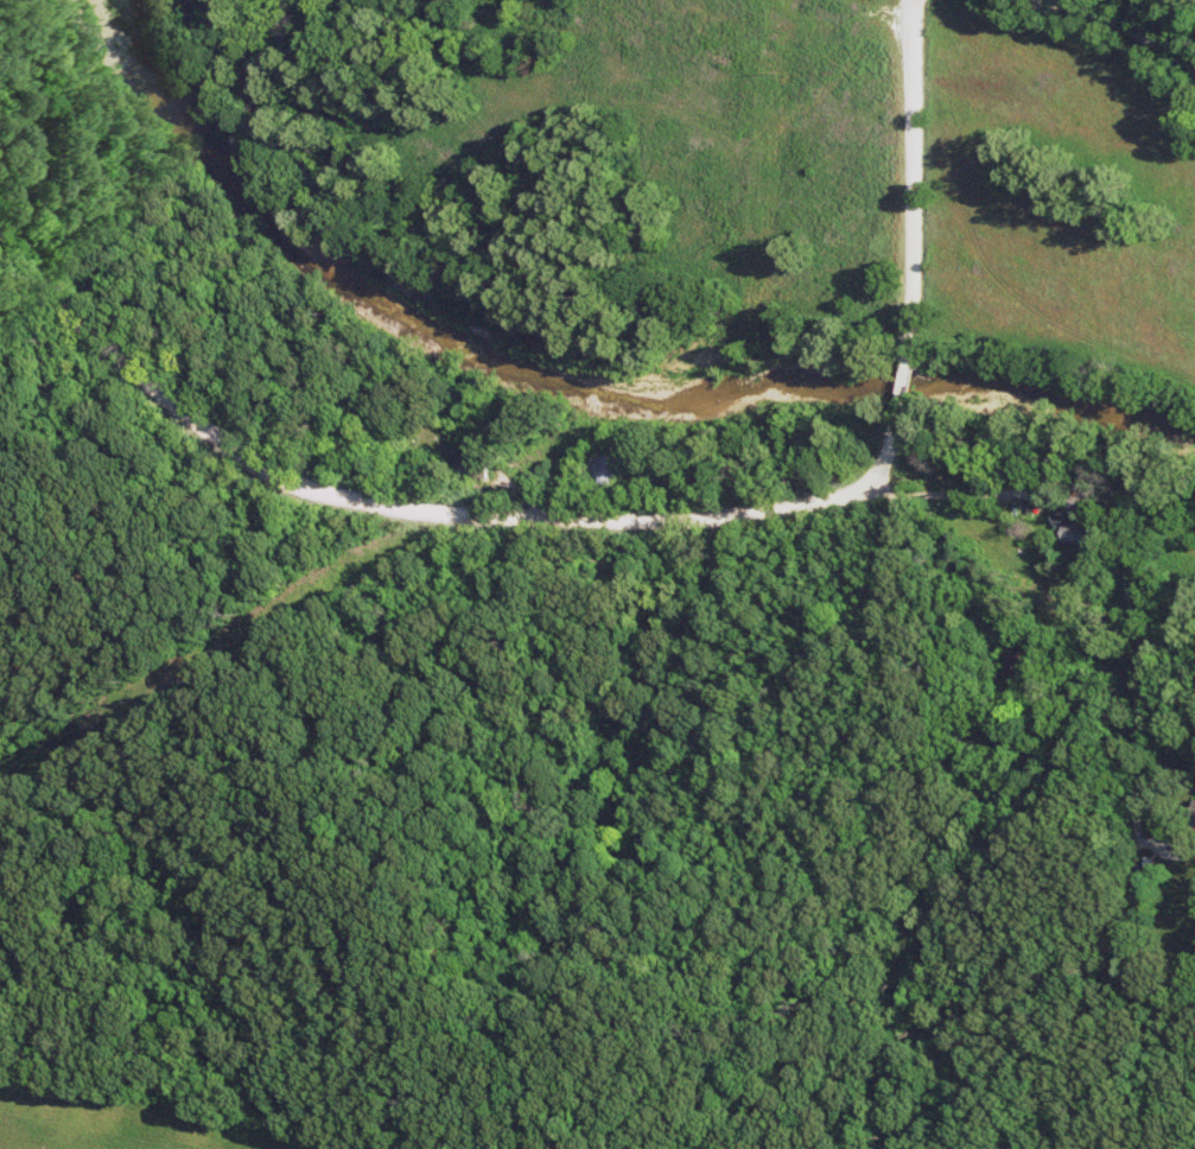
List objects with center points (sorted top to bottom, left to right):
road: (1119, 26)
road: (914, 250)
river: (570, 377)
building: (471, 464)
road: (959, 491)
road: (402, 510)
road: (0, 1148)

